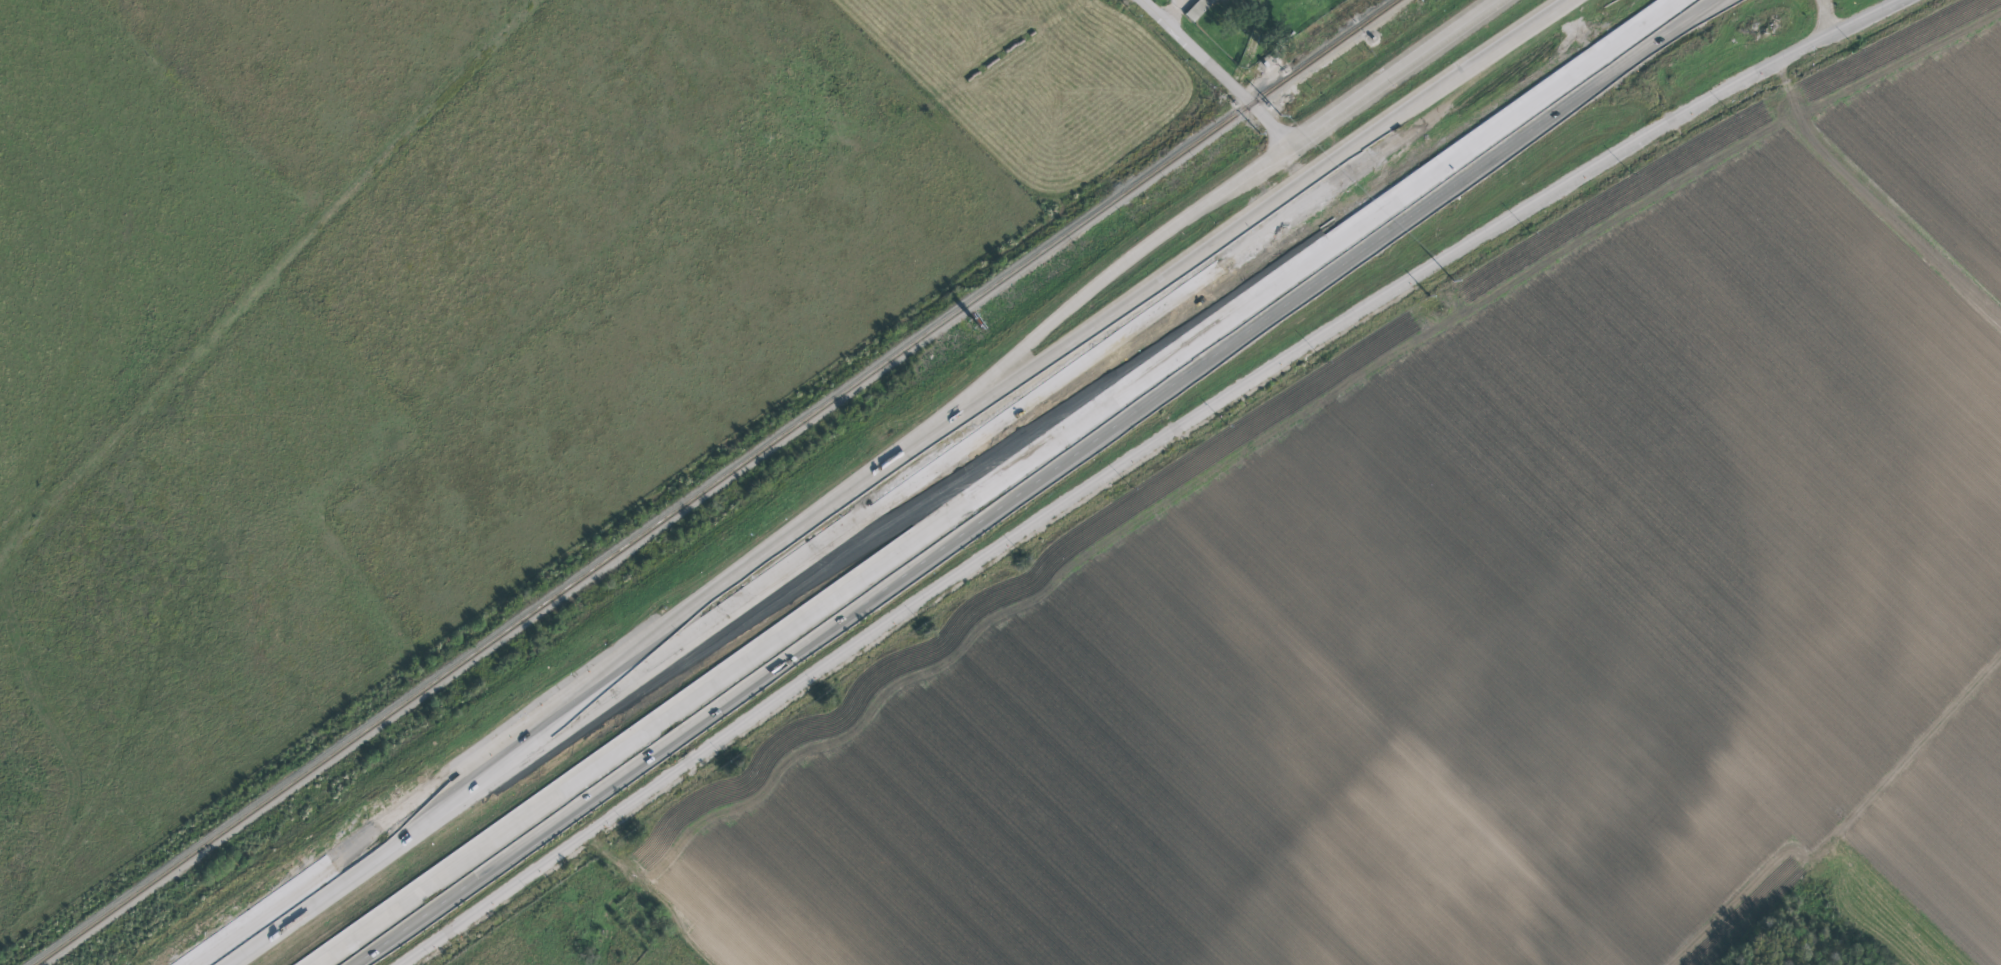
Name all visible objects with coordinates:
building: (1267, 3)
building: (1198, 9)
road: (1173, 10)
road: (1217, 71)
road: (1392, 72)
road: (1568, 90)
road: (1469, 146)
road: (1126, 266)
road: (1101, 341)
road: (1135, 454)
railway: (717, 485)
road: (728, 578)
road: (789, 628)
road: (561, 724)
road: (345, 864)

